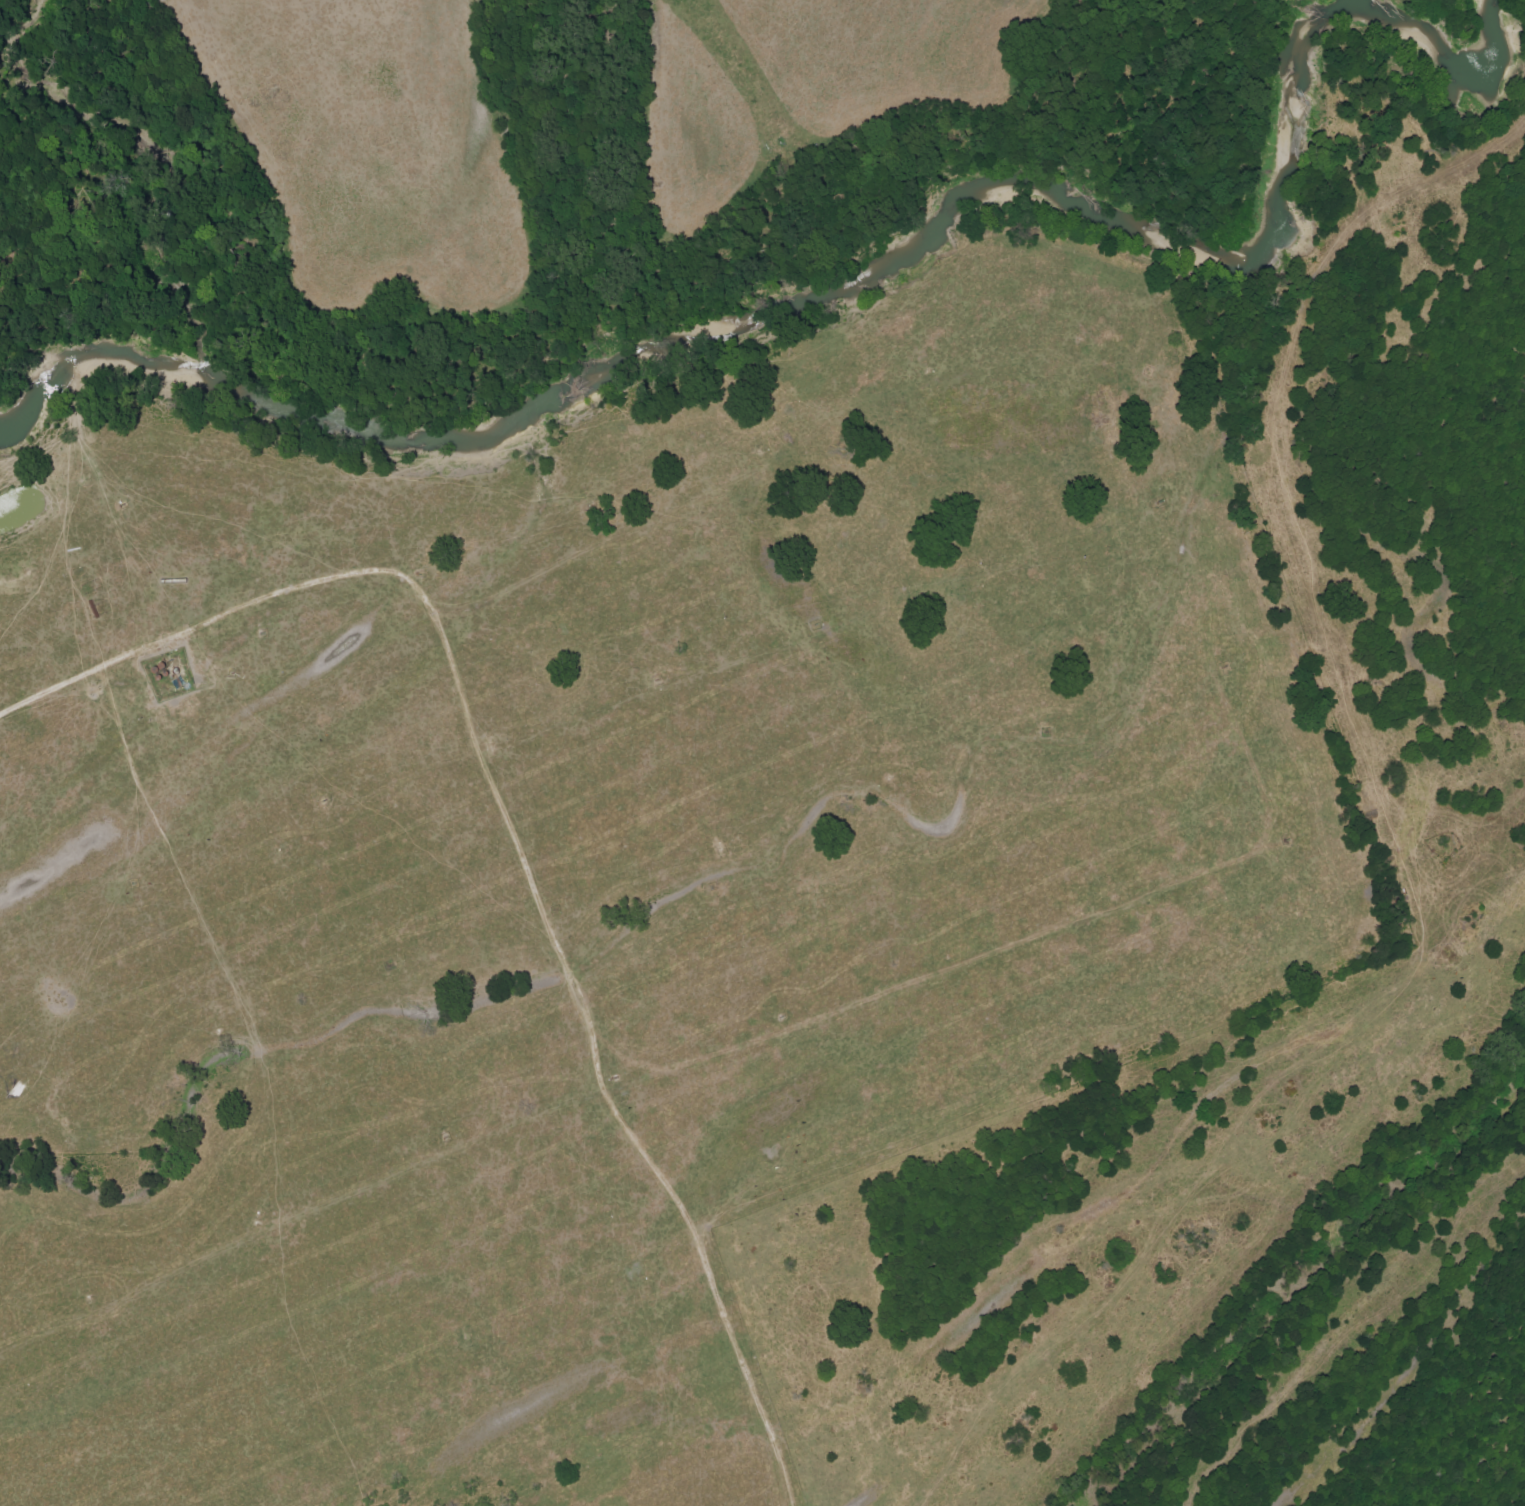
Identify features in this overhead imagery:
river: (879, 254)

